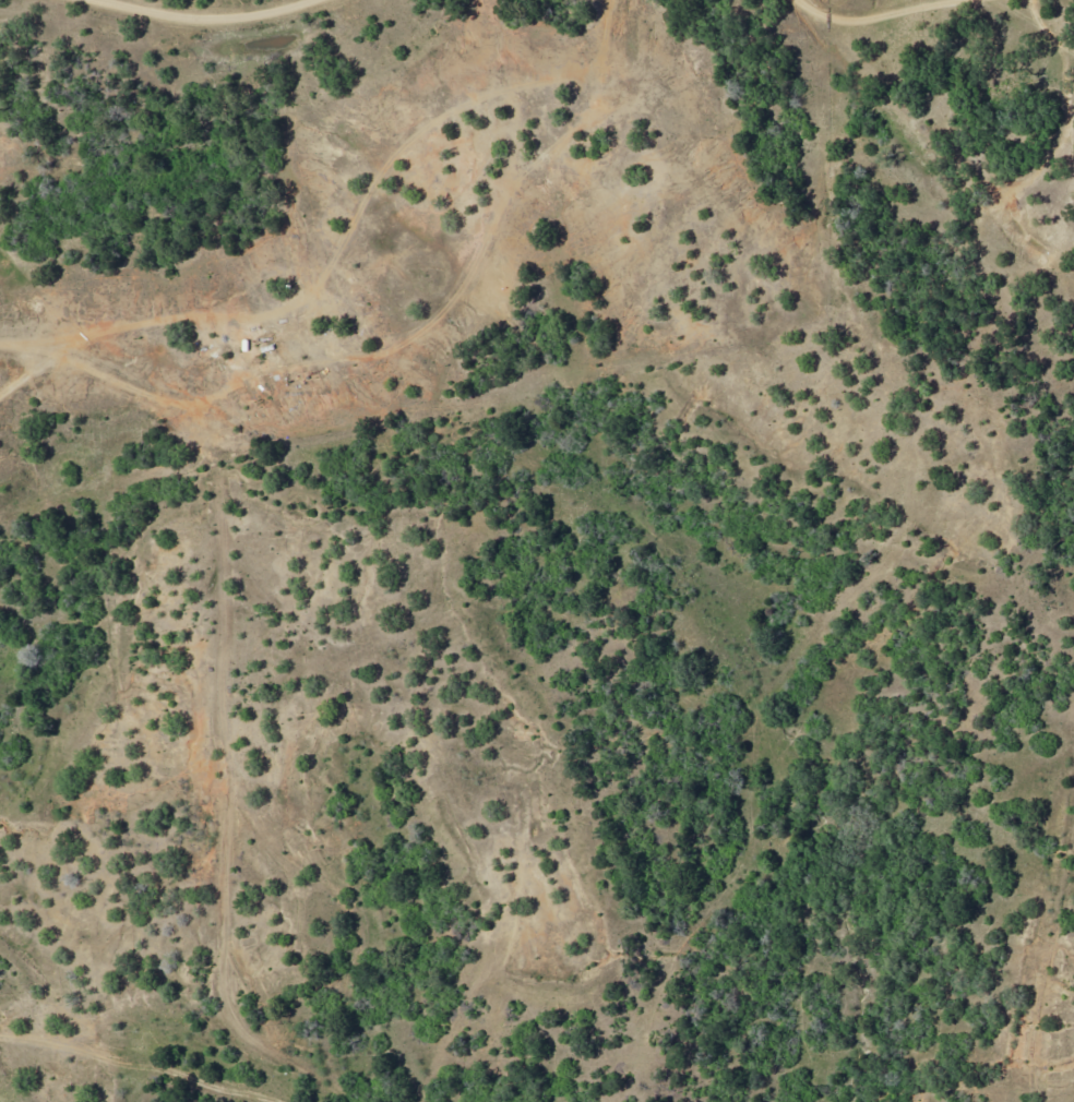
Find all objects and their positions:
road: (1049, 17)
road: (210, 663)

